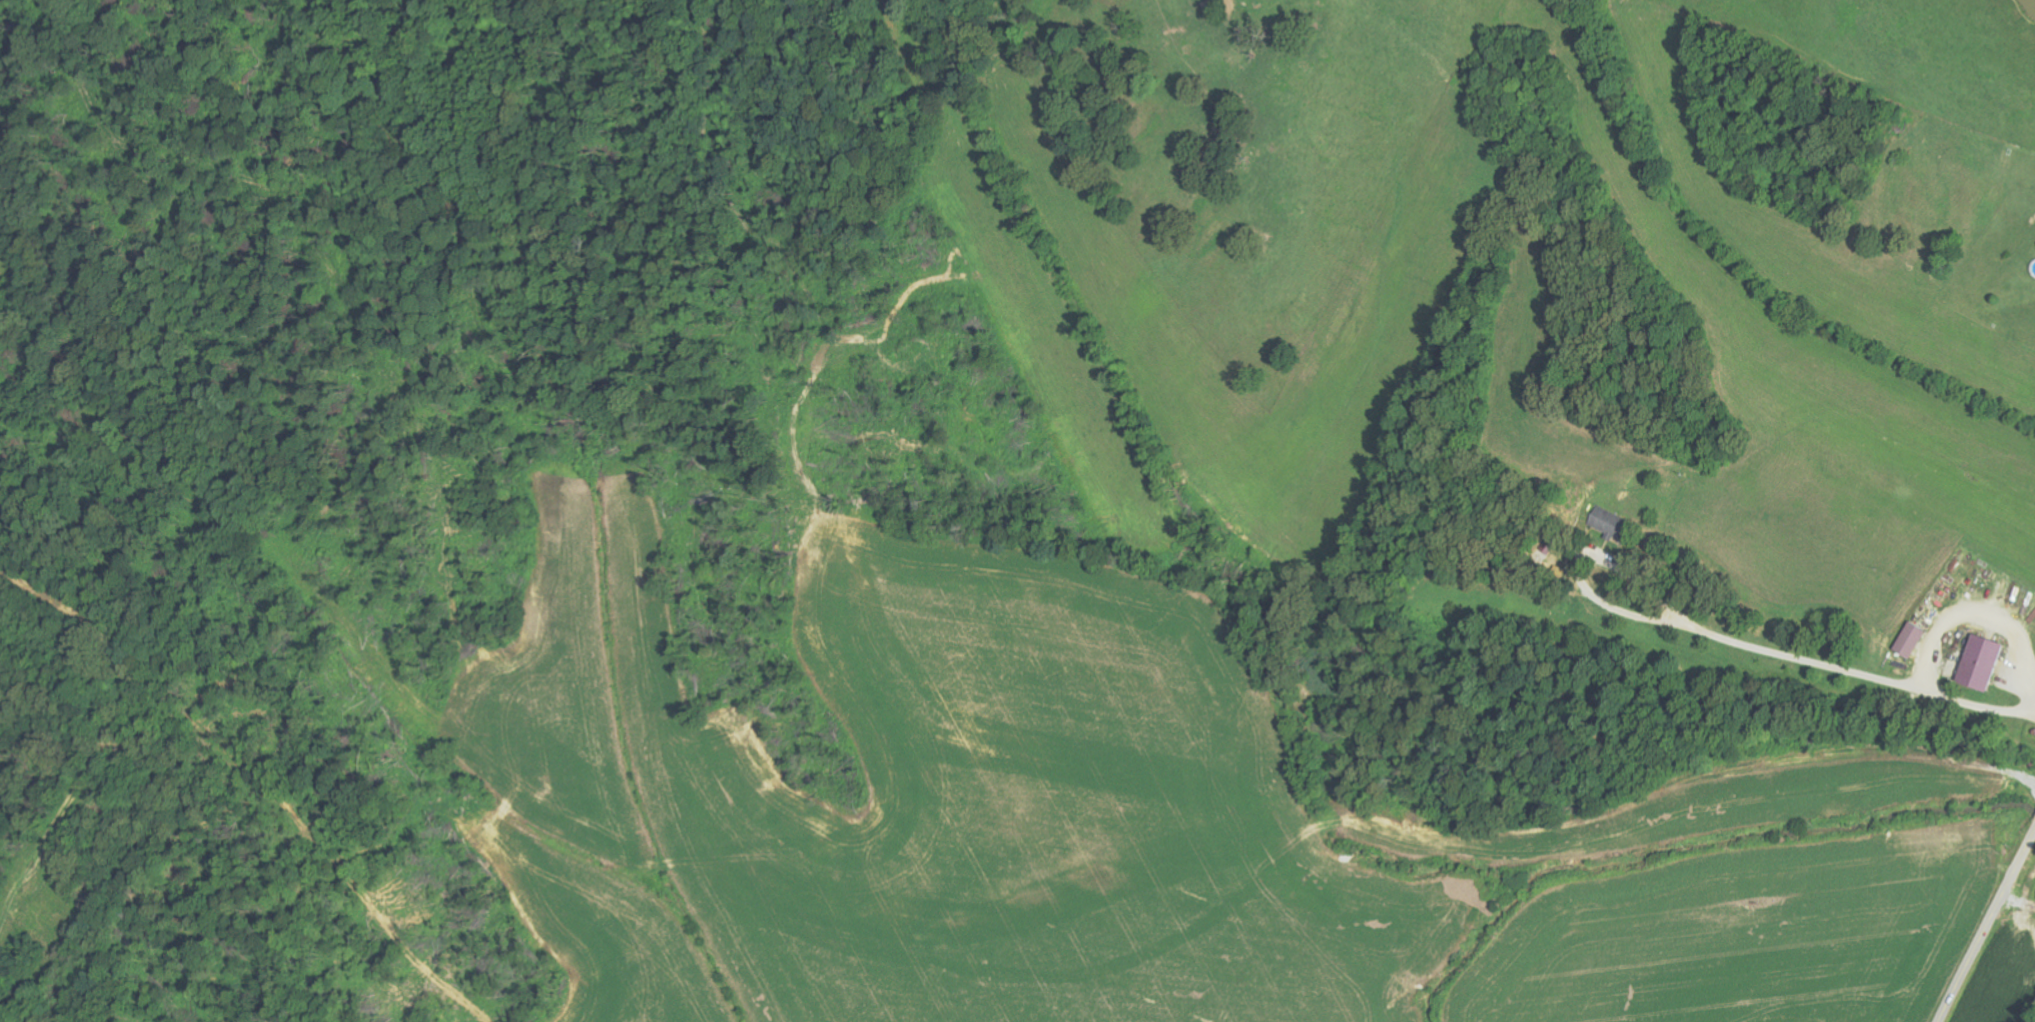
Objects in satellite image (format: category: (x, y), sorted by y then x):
building: (1613, 525)
road: (1578, 560)
building: (1914, 641)
building: (1986, 663)
road: (1859, 673)
road: (1985, 927)

